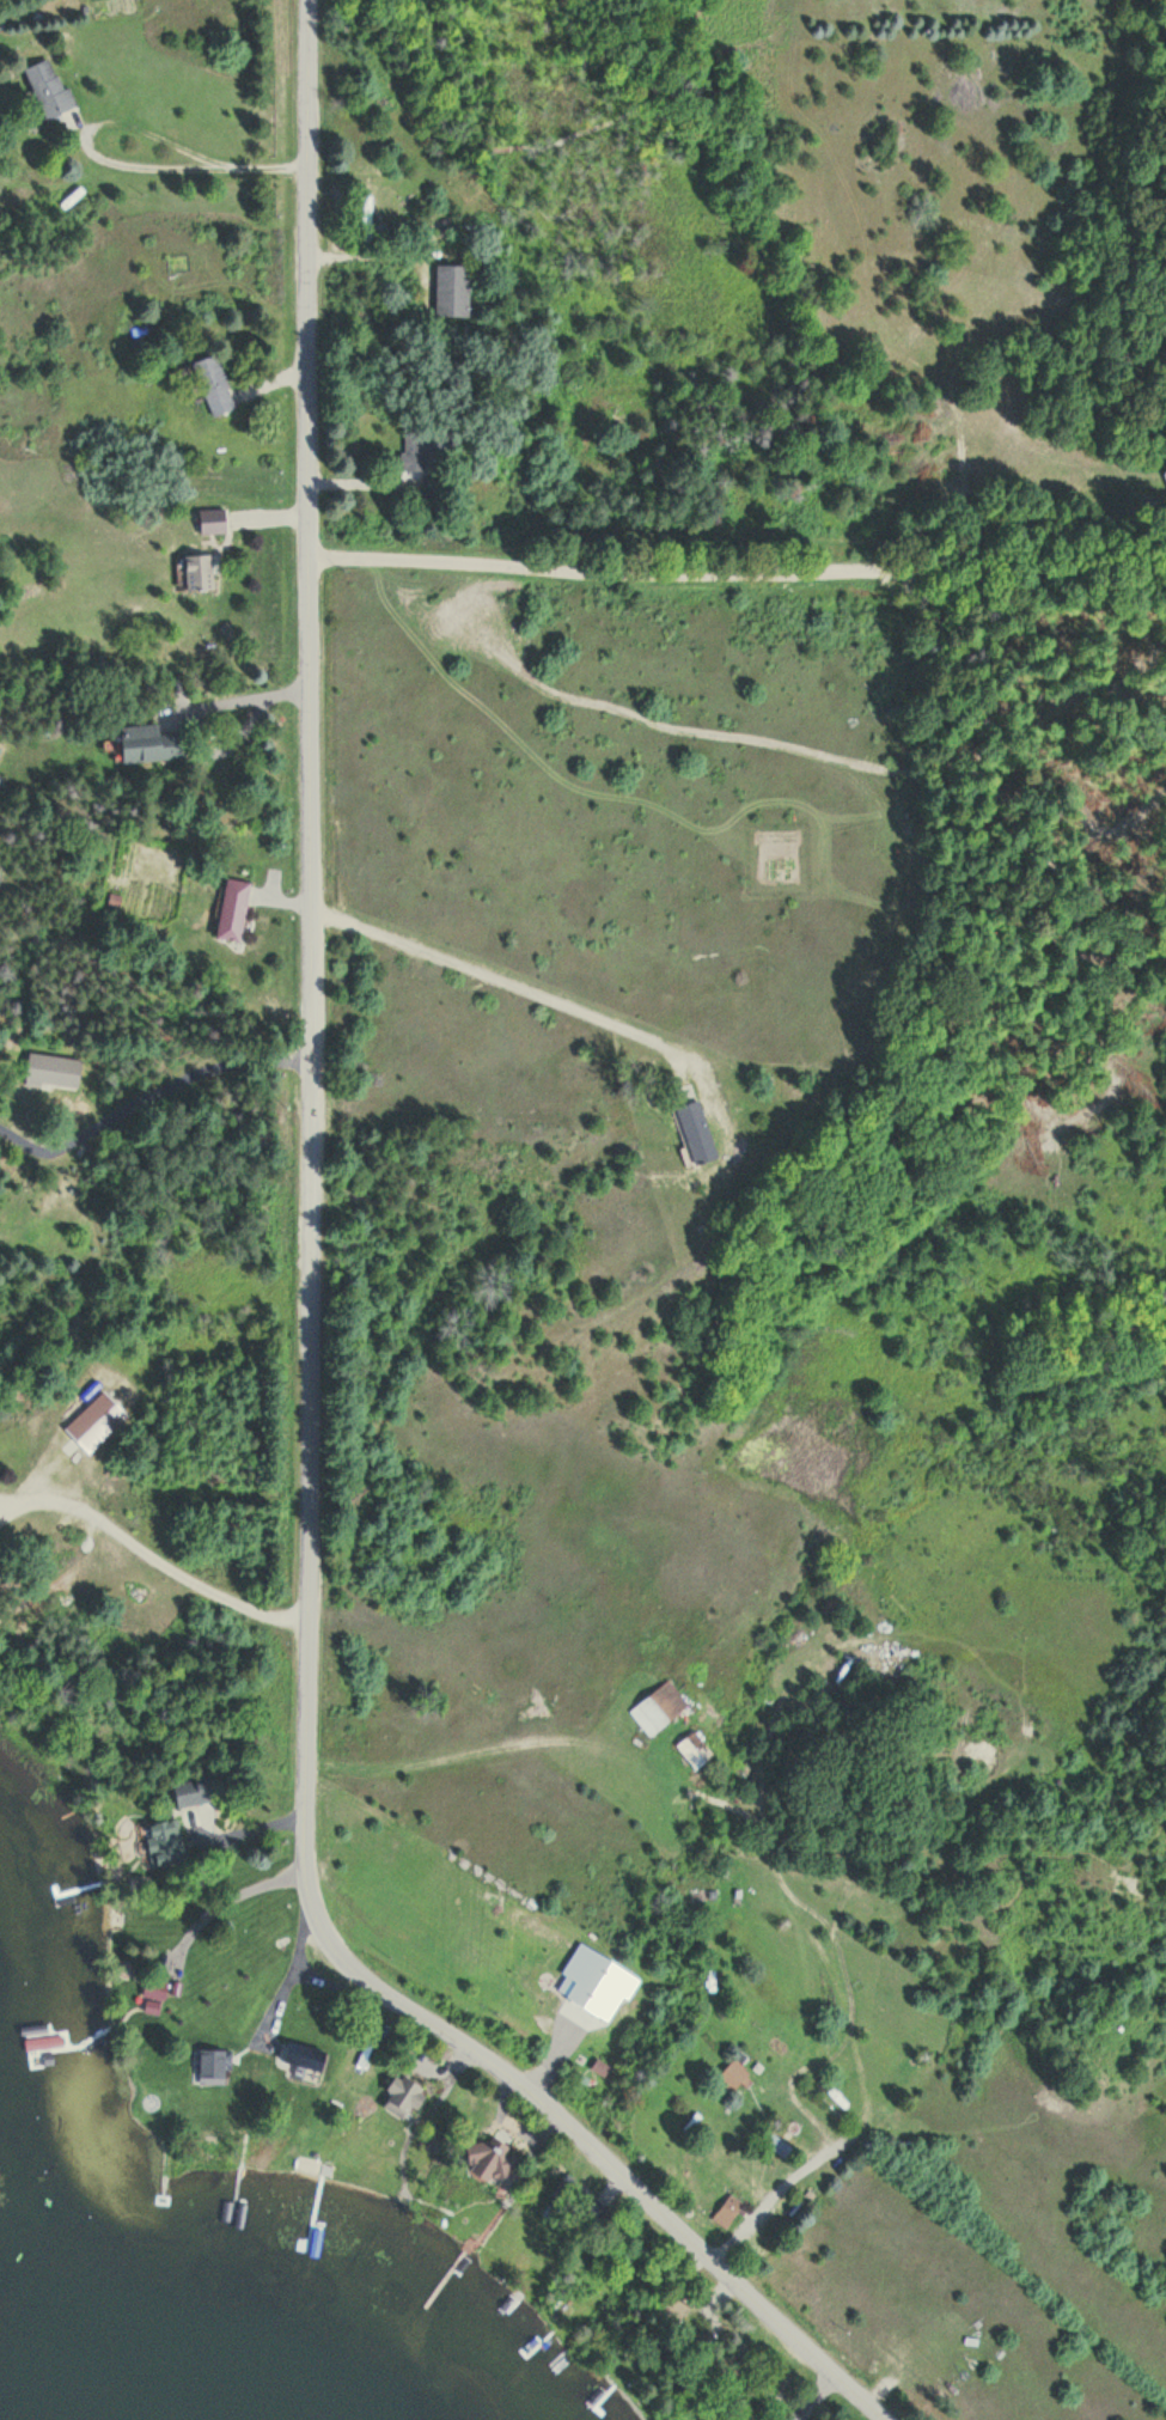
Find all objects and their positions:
building: (49, 89)
building: (366, 219)
building: (453, 291)
building: (215, 386)
building: (427, 447)
building: (213, 523)
building: (200, 574)
road: (735, 578)
building: (152, 745)
building: (234, 910)
road: (311, 956)
road: (494, 982)
building: (54, 1072)
building: (774, 1086)
building: (696, 1133)
building: (659, 1709)
building: (695, 1750)
building: (194, 1792)
building: (166, 1843)
building: (154, 1989)
building: (304, 2058)
building: (212, 2065)
building: (404, 2097)
building: (779, 2146)
road: (600, 2158)
building: (492, 2162)
building: (578, 2202)
building: (728, 2212)
building: (669, 2315)
building: (750, 2360)

